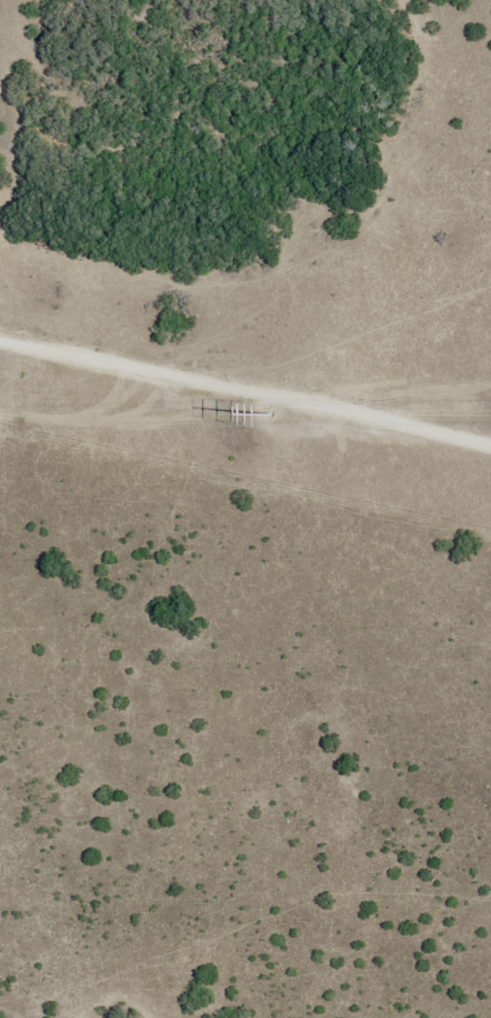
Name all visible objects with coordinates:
road: (245, 381)
power tower: (274, 418)

